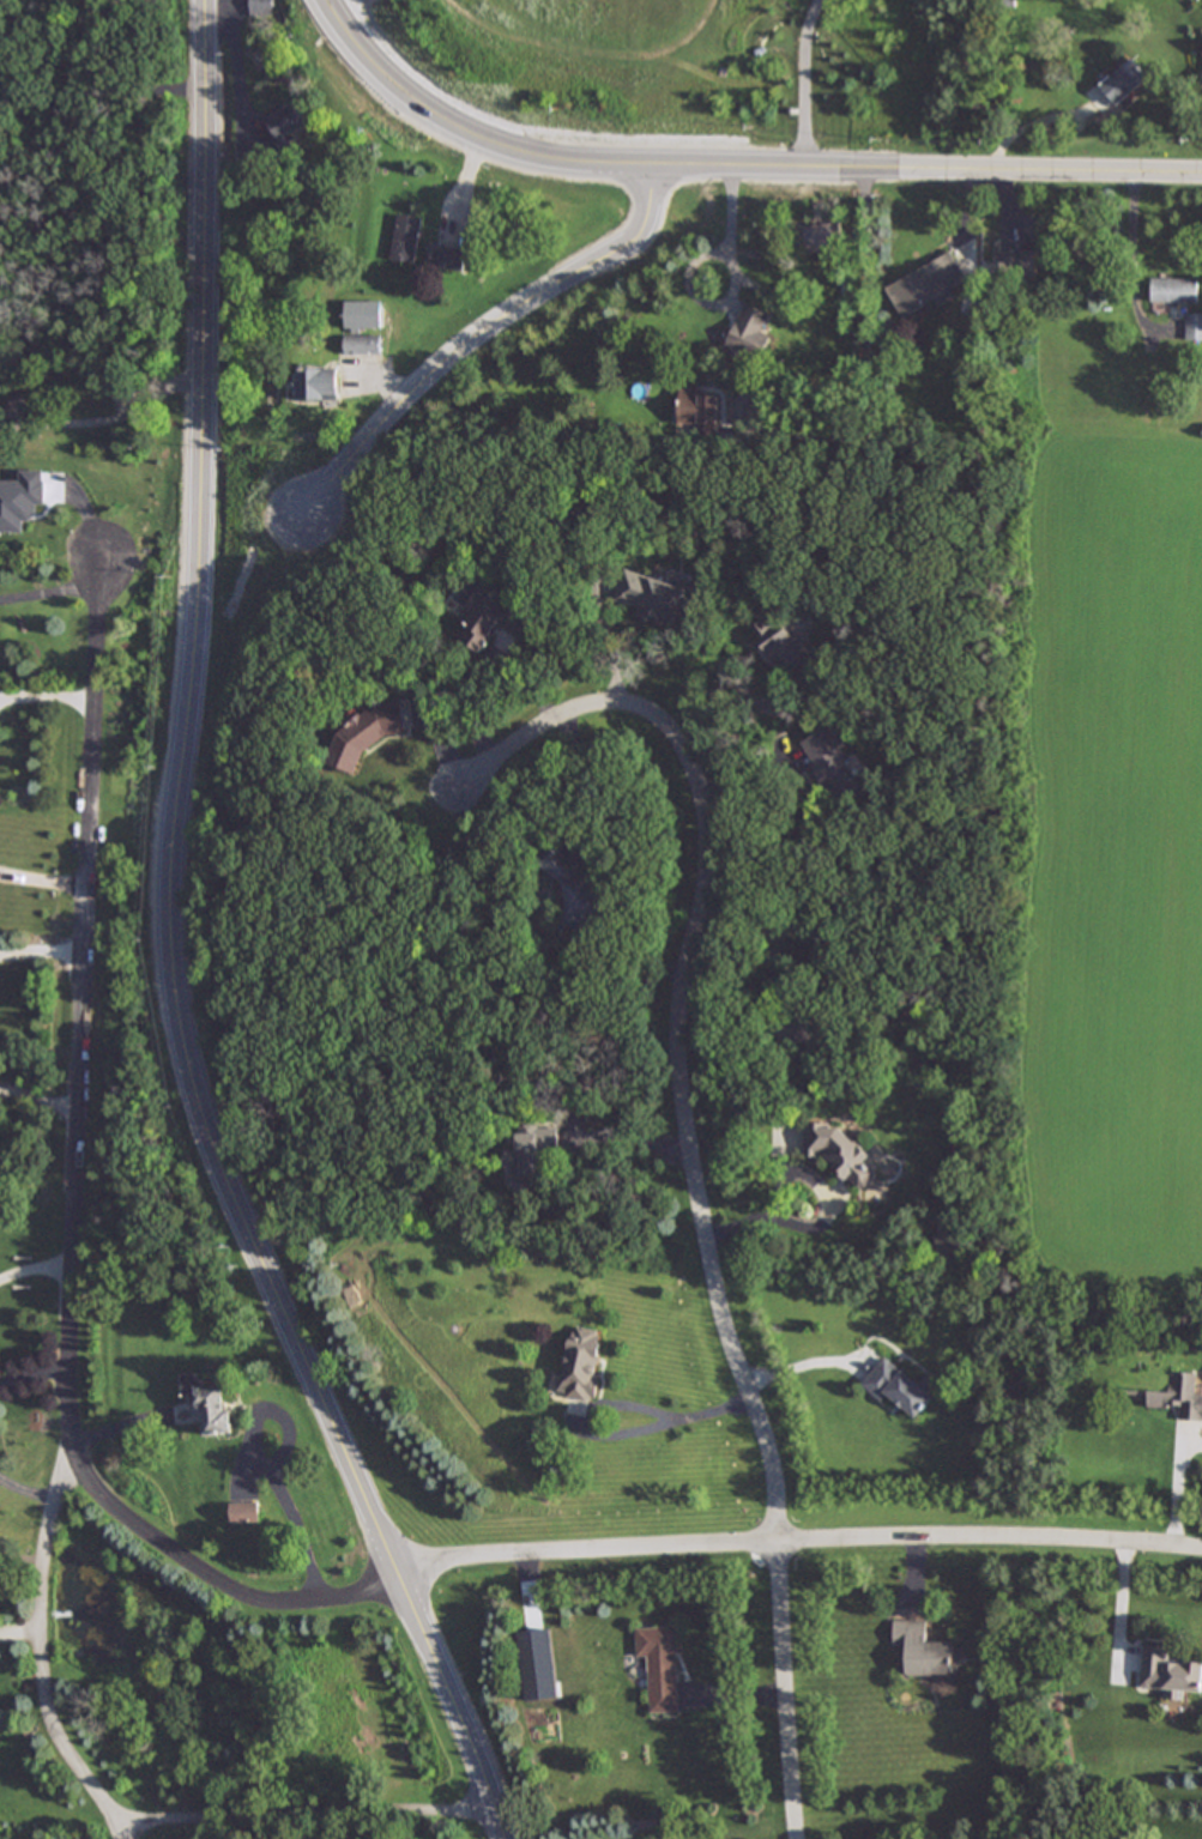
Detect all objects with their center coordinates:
building: (1201, 54)
building: (1123, 80)
road: (808, 86)
road: (97, 98)
building: (284, 120)
road: (489, 165)
road: (99, 193)
road: (703, 201)
building: (405, 237)
road: (733, 240)
building: (447, 255)
building: (1017, 265)
building: (925, 285)
building: (1173, 289)
building: (362, 314)
building: (1194, 326)
building: (749, 329)
building: (362, 344)
building: (315, 383)
road: (97, 394)
building: (699, 411)
building: (20, 500)
road: (54, 591)
building: (653, 597)
building: (484, 616)
building: (779, 641)
road: (47, 695)
building: (364, 733)
building: (832, 764)
road: (174, 810)
road: (42, 876)
building: (572, 884)
building: (821, 933)
road: (41, 952)
building: (801, 1029)
road: (2, 1088)
road: (2, 1091)
road: (41, 1099)
building: (530, 1151)
building: (838, 1151)
road: (691, 1174)
road: (74, 1206)
road: (780, 1222)
building: (955, 1244)
road: (35, 1264)
building: (581, 1362)
road: (32, 1372)
building: (901, 1386)
building: (1179, 1396)
building: (207, 1403)
road: (610, 1403)
road: (265, 1466)
road: (25, 1490)
building: (243, 1513)
road: (799, 1542)
building: (923, 1649)
road: (41, 1657)
building: (660, 1665)
building: (1168, 1672)
road: (458, 1706)
road: (303, 1808)

